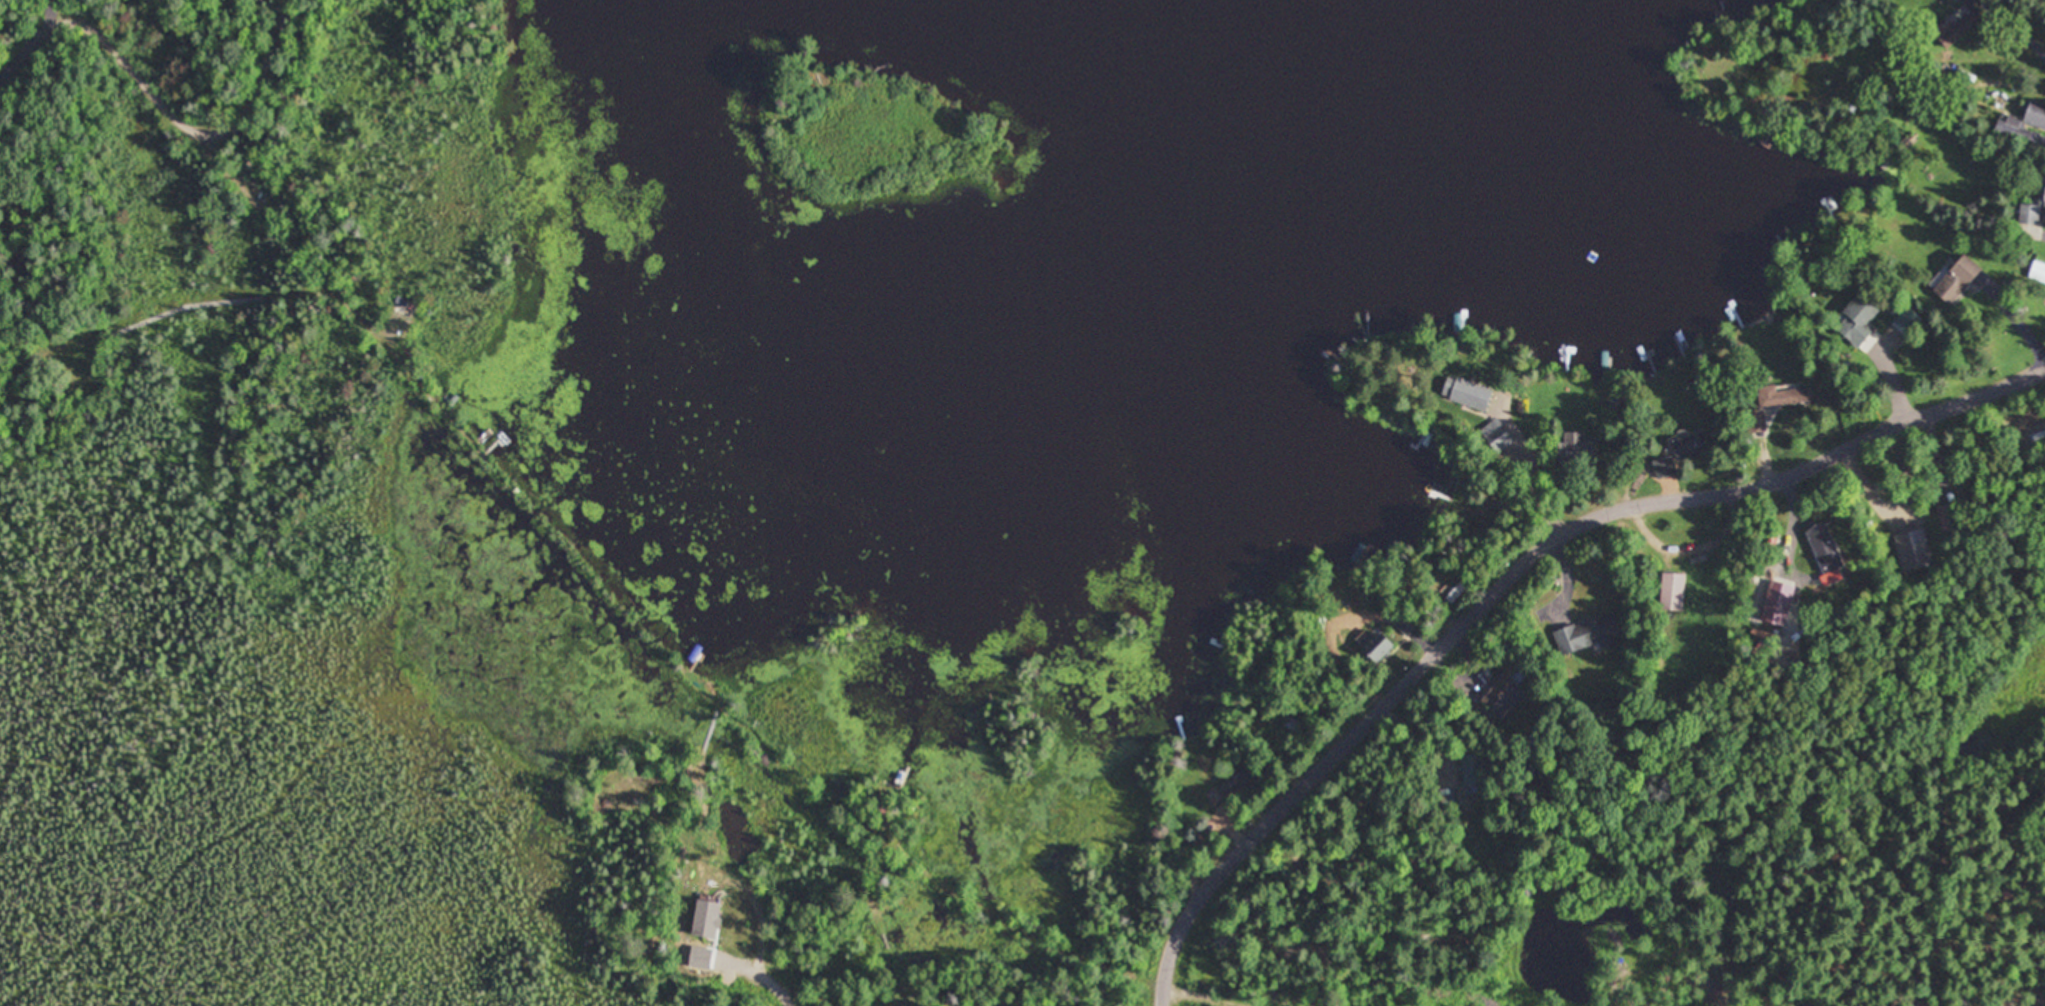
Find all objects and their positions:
building: (1953, 27)
building: (2009, 124)
building: (2033, 213)
building: (2038, 272)
building: (1957, 278)
building: (1857, 319)
building: (1479, 397)
building: (1776, 402)
building: (1691, 444)
building: (1577, 446)
building: (1664, 466)
building: (1948, 516)
building: (1824, 548)
road: (1515, 561)
building: (1456, 590)
building: (1671, 591)
building: (1777, 603)
building: (1586, 634)
building: (1375, 645)
building: (1501, 695)
building: (1294, 721)
building: (1471, 770)
building: (1236, 781)

